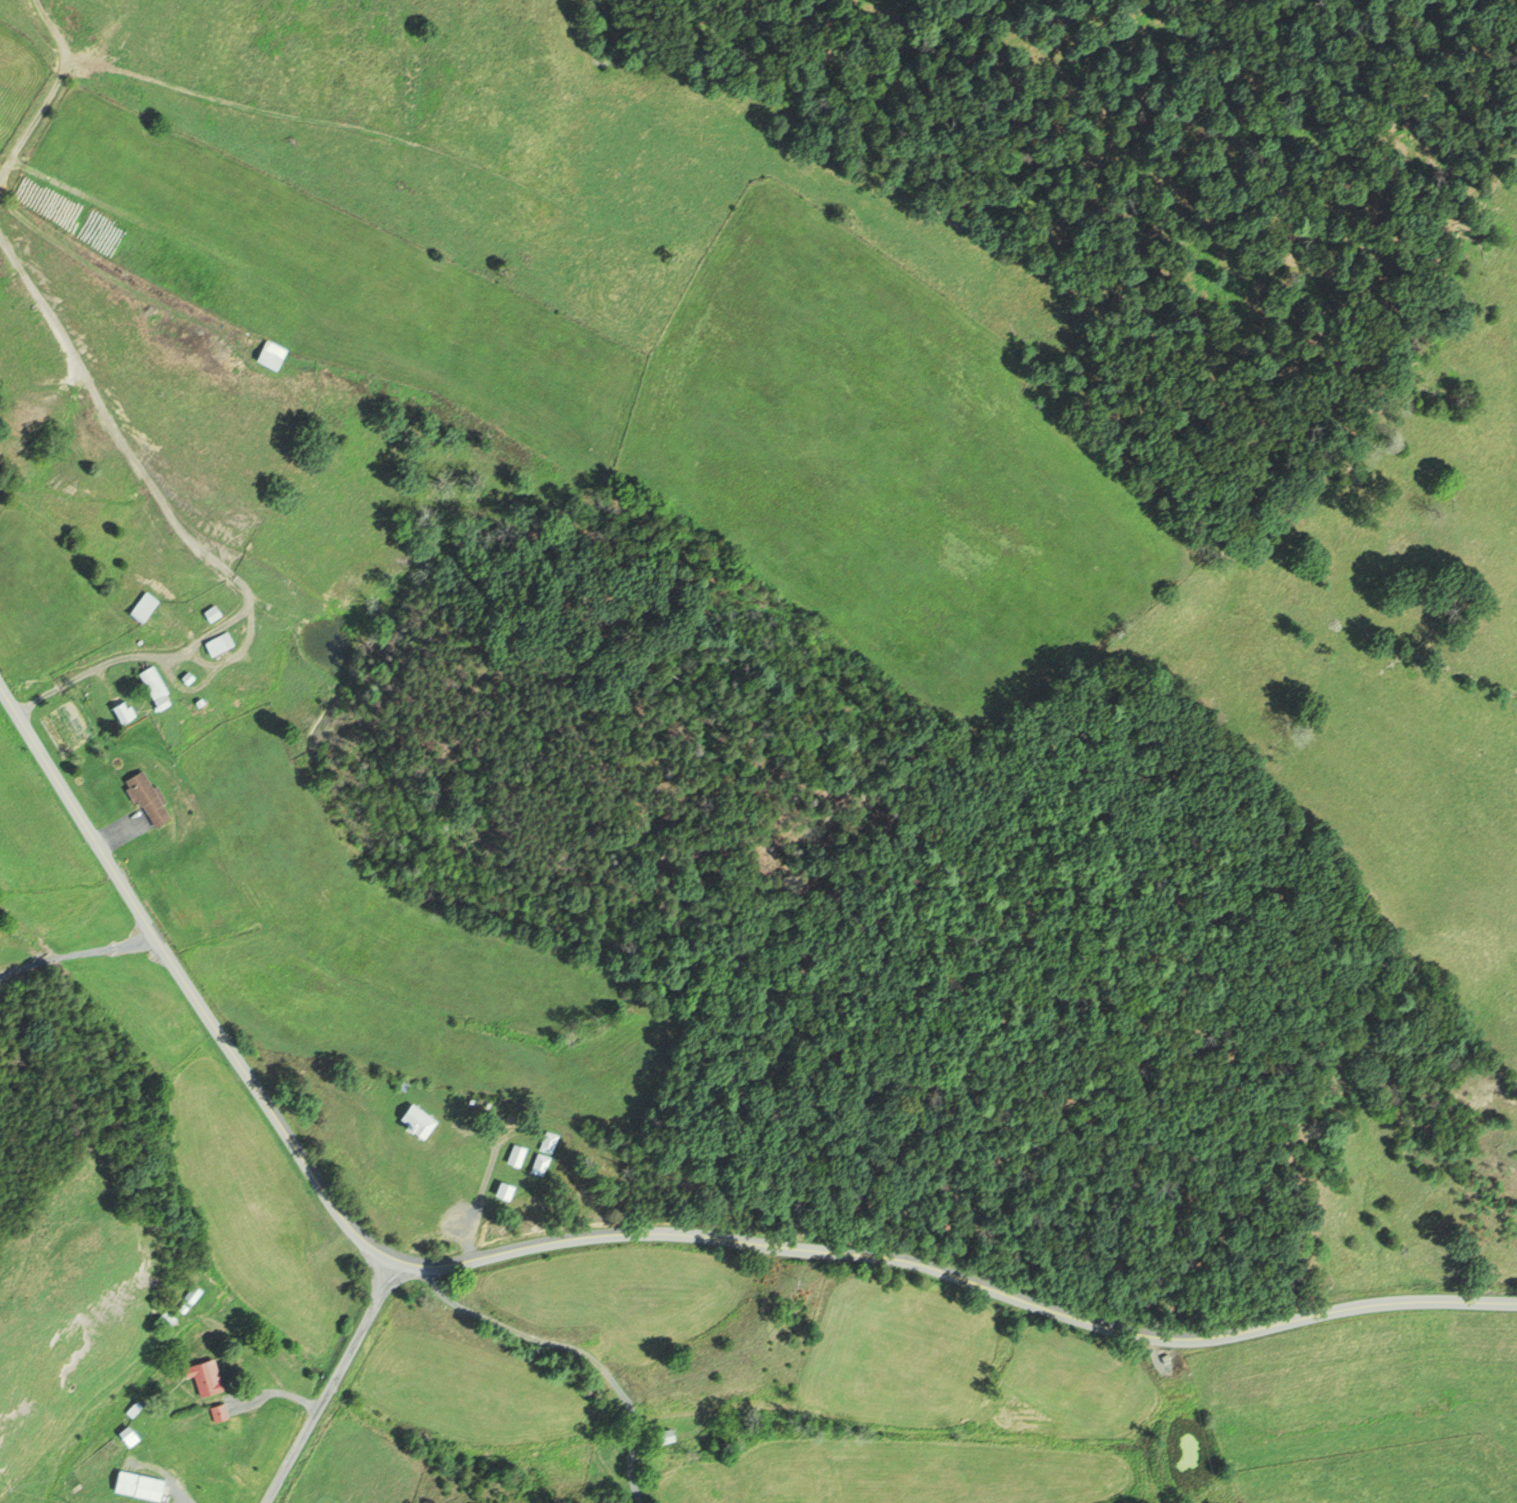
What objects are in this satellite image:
road: (49, 88)
building: (274, 356)
road: (136, 465)
building: (144, 607)
building: (211, 613)
building: (220, 644)
road: (147, 655)
building: (187, 677)
building: (247, 681)
building: (154, 687)
building: (122, 712)
building: (147, 798)
road: (116, 834)
road: (77, 953)
building: (418, 1120)
building: (546, 1143)
building: (514, 1155)
building: (538, 1165)
road: (480, 1181)
building: (503, 1190)
road: (612, 1234)
building: (192, 1296)
road: (577, 1347)
building: (204, 1376)
road: (329, 1381)
road: (278, 1392)
building: (217, 1413)
building: (666, 1434)
building: (128, 1436)
building: (139, 1485)

